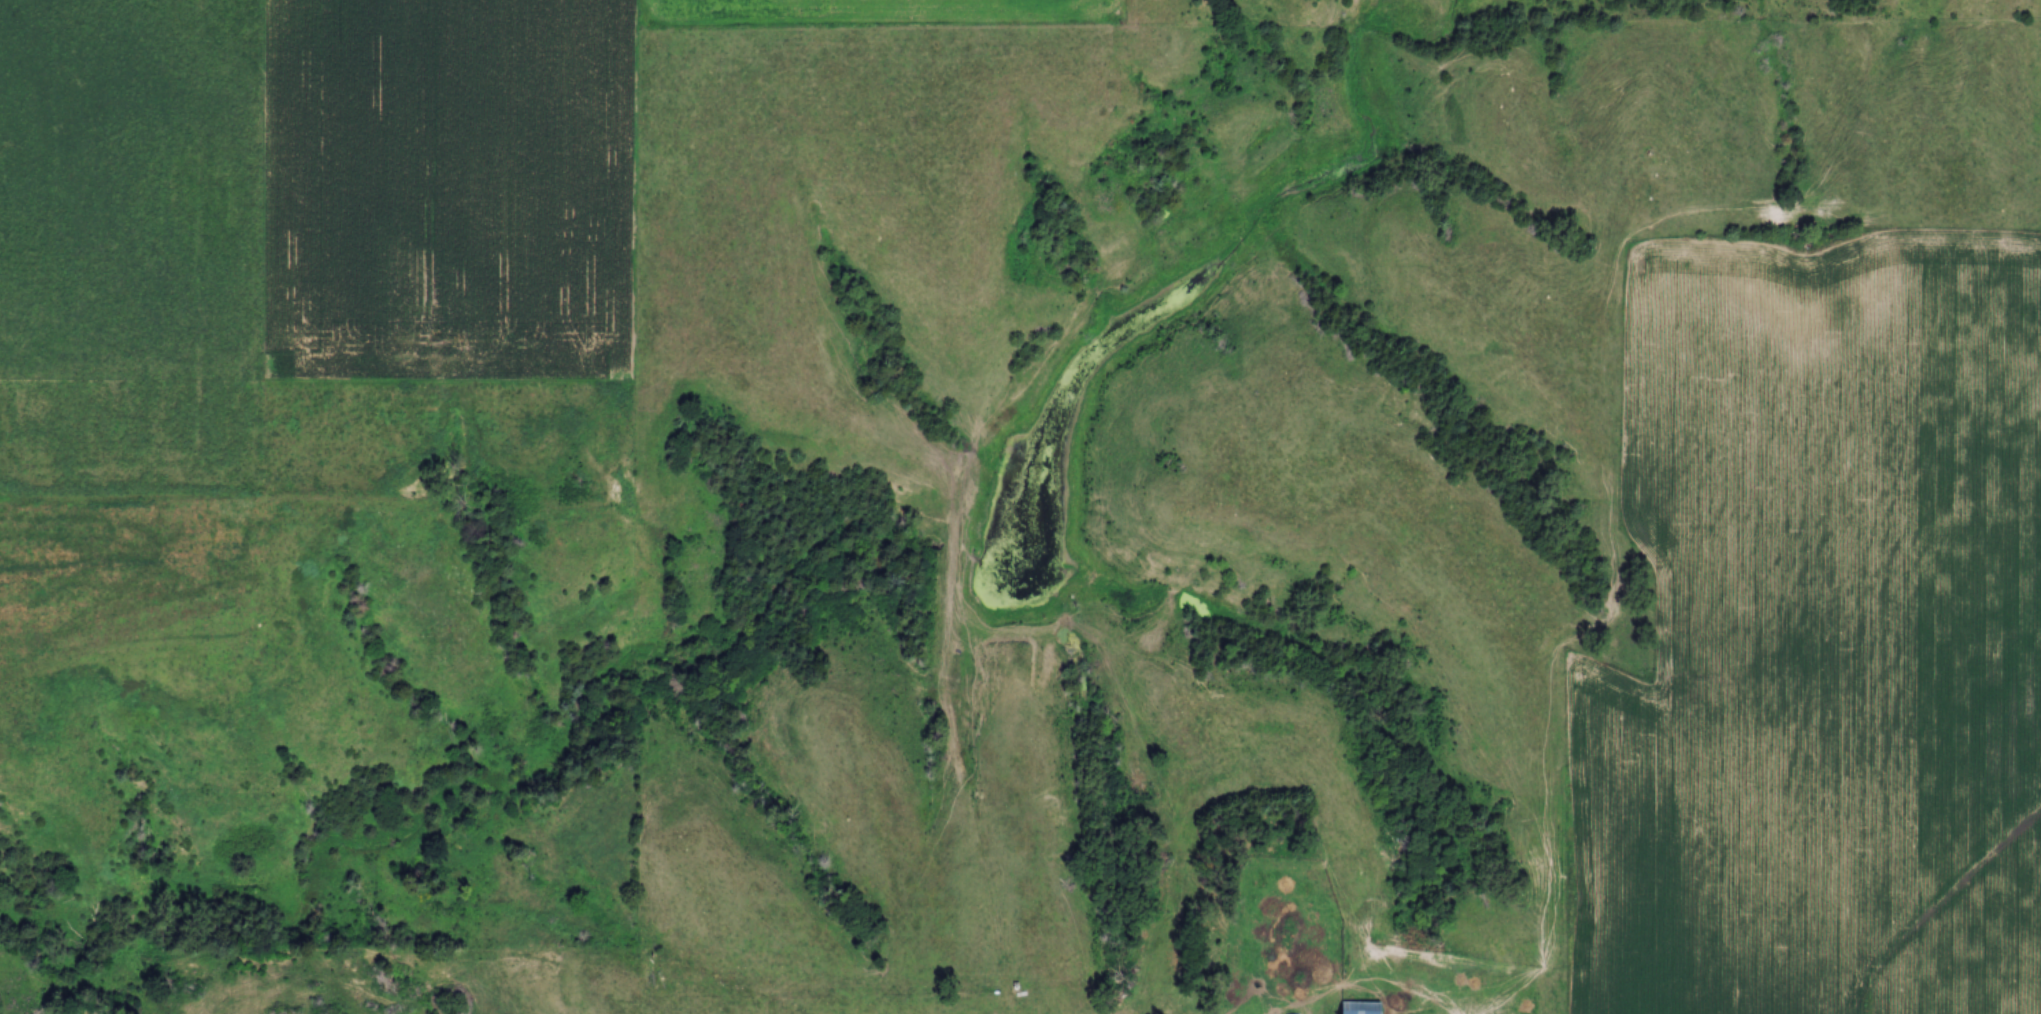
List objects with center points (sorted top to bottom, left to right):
building: (1359, 1008)

